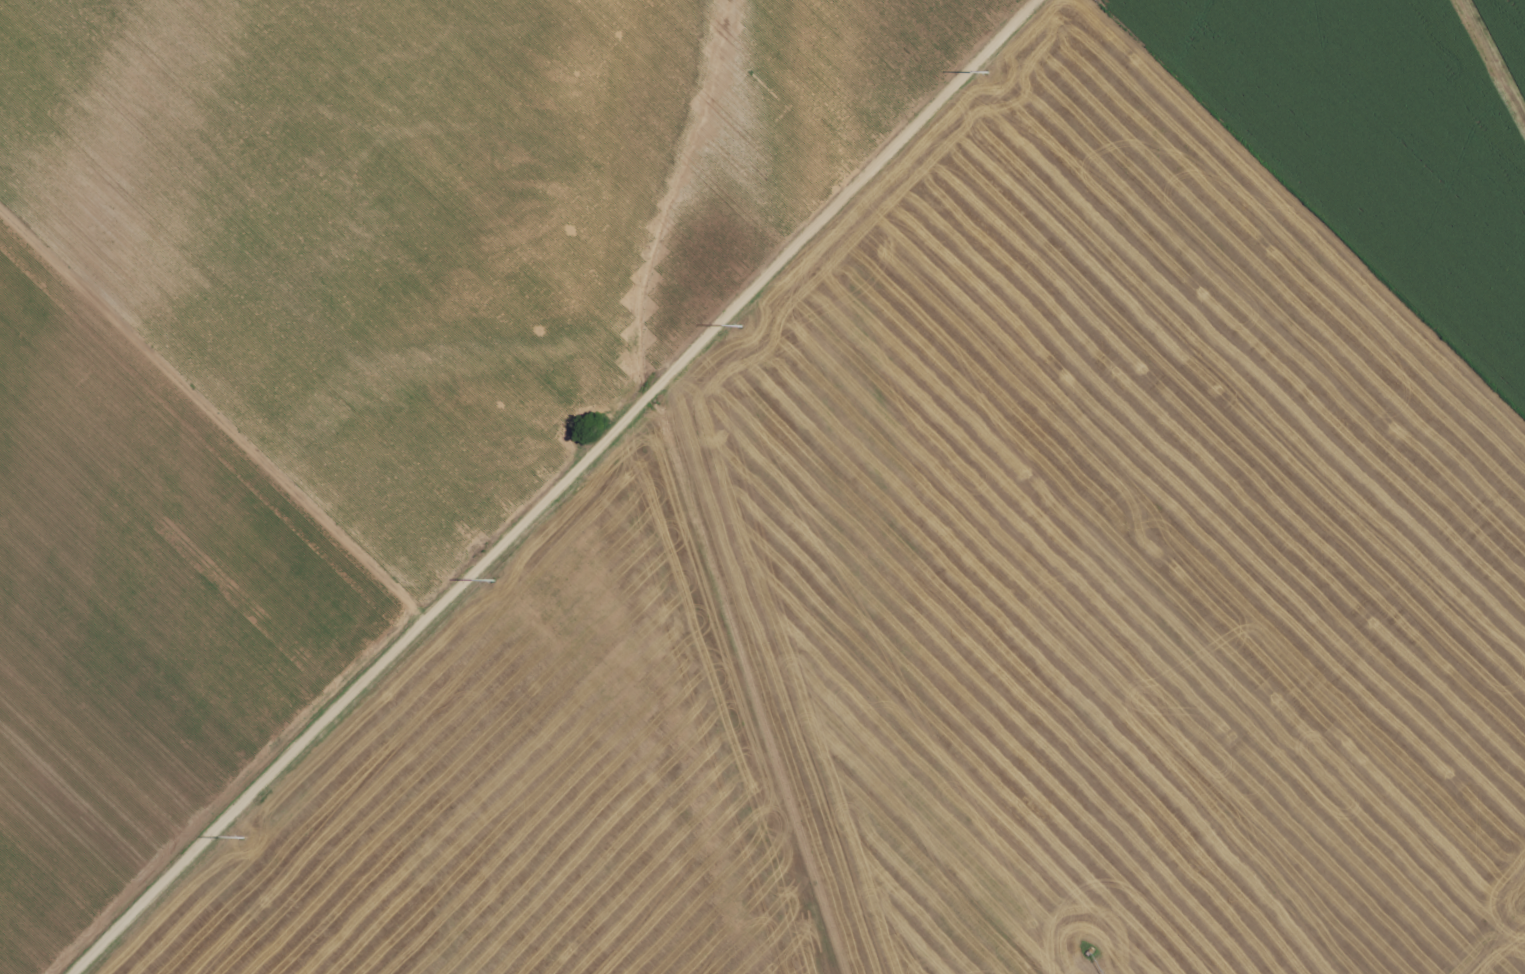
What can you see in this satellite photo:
power tower: (989, 73)
power tower: (742, 326)
road: (209, 444)
road: (570, 489)
power tower: (493, 579)
power tower: (242, 837)

